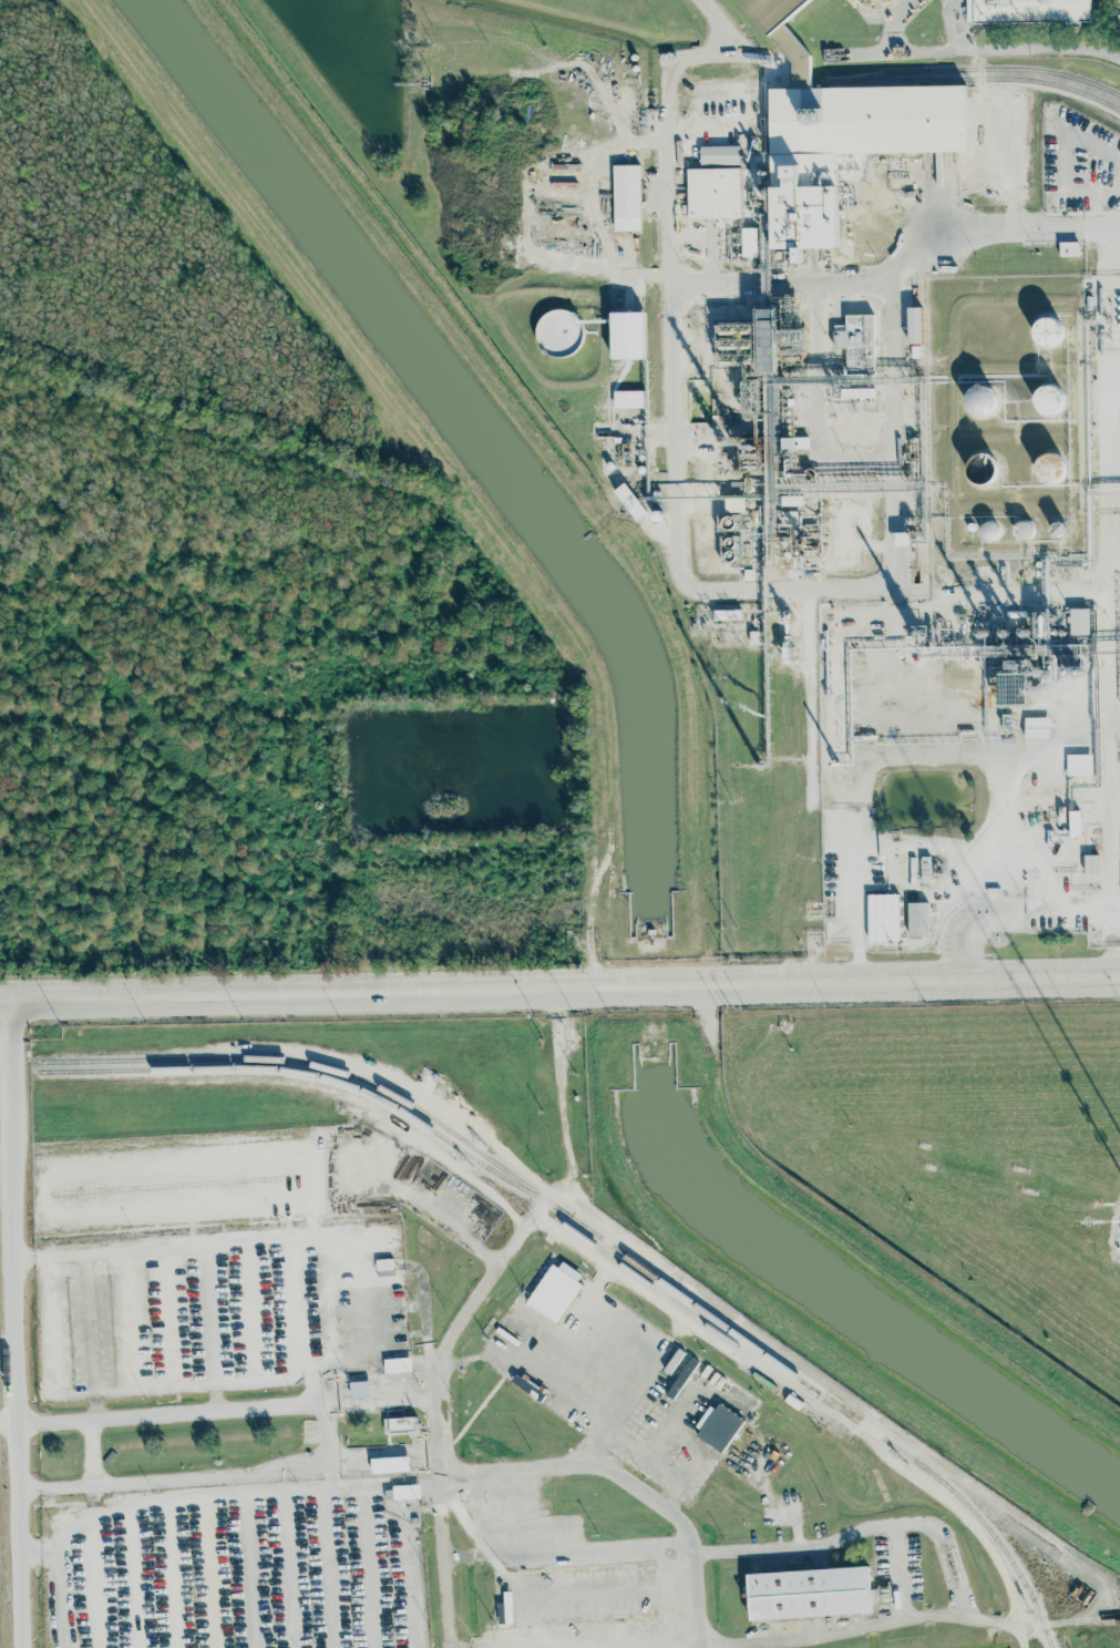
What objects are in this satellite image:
building: (772, 11)
building: (1028, 11)
road: (901, 24)
road: (725, 29)
railway: (974, 69)
railway: (882, 76)
railway: (973, 78)
building: (719, 155)
building: (713, 193)
building: (626, 197)
road: (948, 202)
building: (749, 242)
building: (1069, 248)
road: (719, 257)
road: (901, 270)
road: (677, 315)
road: (1113, 316)
building: (914, 325)
building: (558, 330)
building: (1048, 331)
building: (628, 335)
building: (855, 341)
building: (629, 399)
building: (1049, 399)
building: (980, 400)
building: (795, 442)
road: (866, 454)
building: (1050, 467)
building: (982, 468)
road: (1117, 477)
building: (629, 500)
building: (1024, 529)
road: (898, 555)
road: (1103, 565)
building: (1079, 622)
building: (1037, 727)
road: (874, 756)
building: (1079, 765)
road: (1021, 831)
road: (1106, 854)
building: (1091, 864)
road: (1008, 911)
building: (883, 917)
building: (918, 919)
road: (559, 989)
railway: (325, 1077)
railway: (604, 1240)
road: (239, 1243)
building: (384, 1267)
railway: (680, 1307)
road: (430, 1311)
road: (467, 1317)
building: (548, 1319)
road: (22, 1323)
road: (210, 1331)
road: (760, 1333)
road: (91, 1339)
building: (398, 1365)
road: (702, 1368)
building: (681, 1379)
building: (360, 1389)
road: (233, 1414)
building: (399, 1424)
road: (13, 1425)
building: (719, 1426)
road: (333, 1445)
road: (100, 1460)
building: (390, 1464)
road: (618, 1464)
road: (238, 1487)
building: (405, 1492)
road: (968, 1524)
road: (873, 1528)
road: (452, 1558)
road: (904, 1572)
road: (63, 1589)
building: (809, 1593)
road: (944, 1616)

